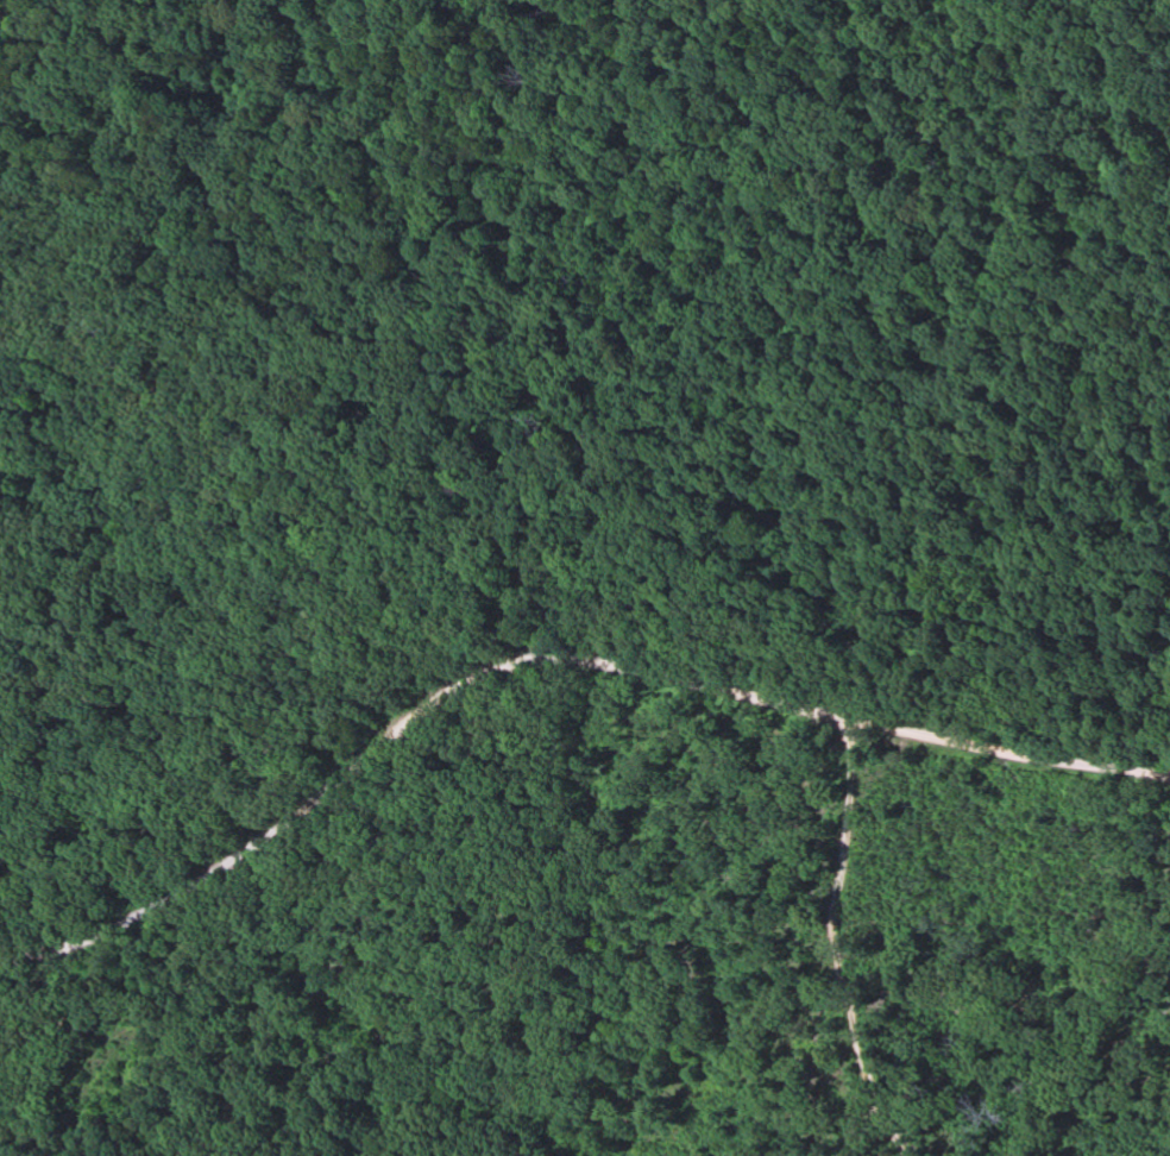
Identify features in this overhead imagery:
road: (543, 662)
road: (15, 951)

